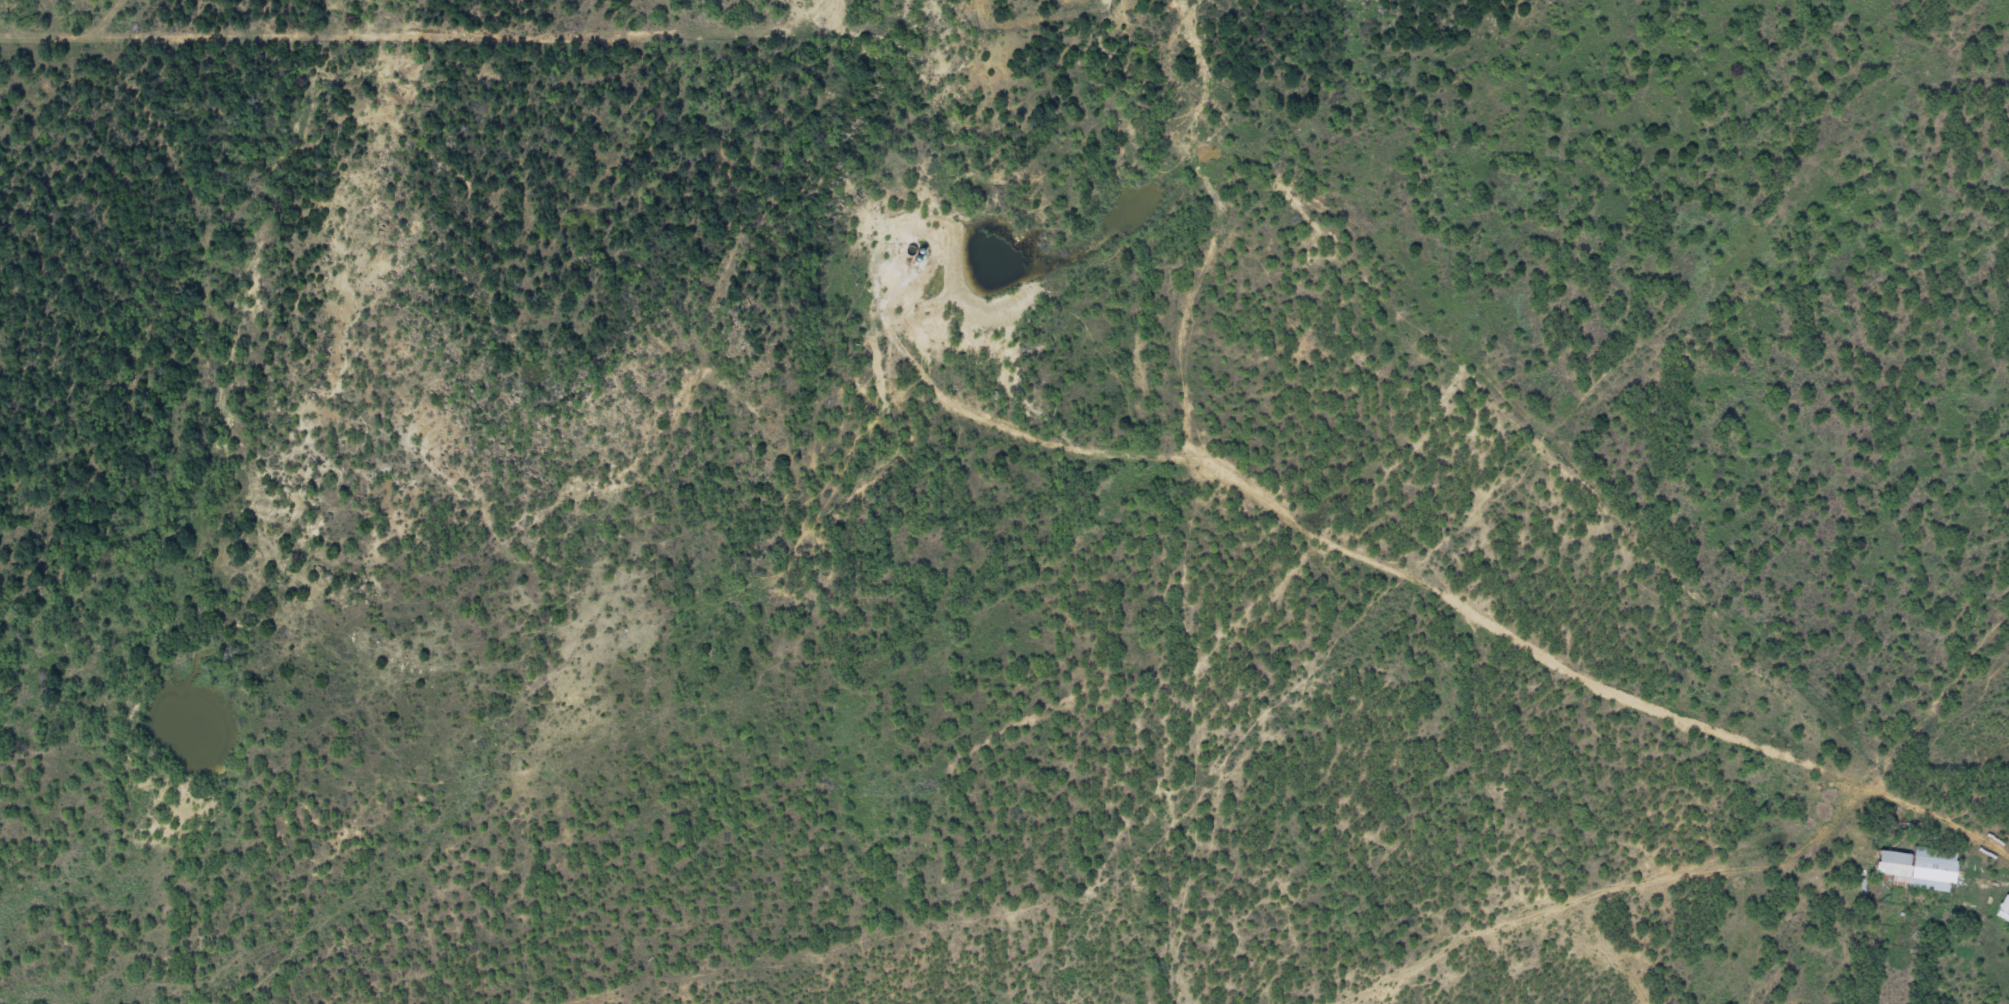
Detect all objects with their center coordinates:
road: (211, 300)
road: (1590, 427)
road: (1573, 864)
building: (1921, 868)
building: (2004, 909)
road: (1546, 946)

